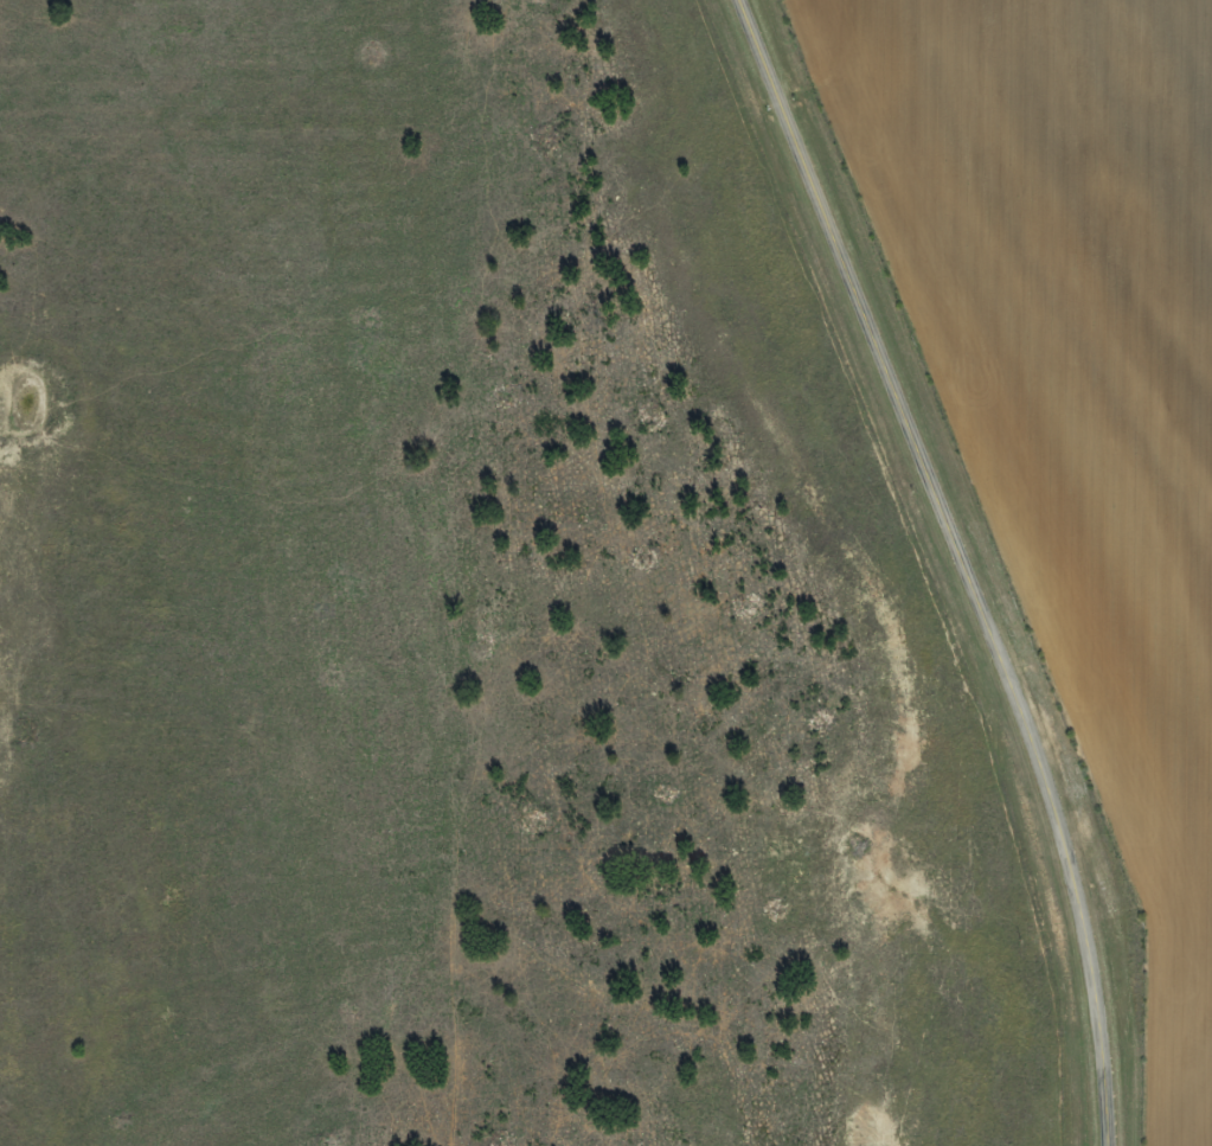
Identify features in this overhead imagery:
road: (963, 562)

